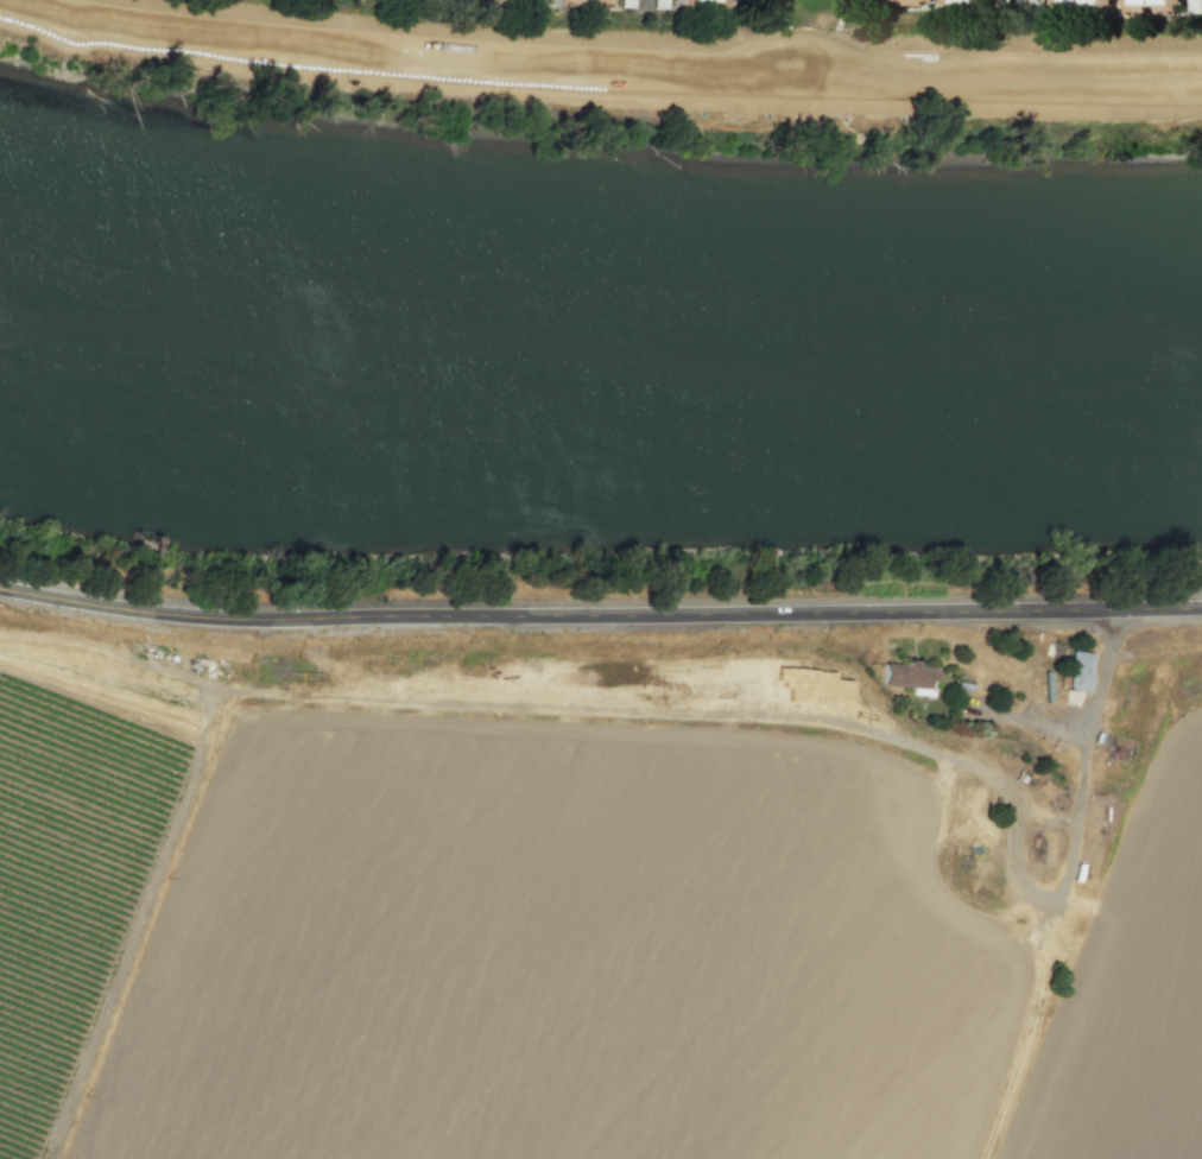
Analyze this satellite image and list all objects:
building: (517, 1)
building: (911, 1)
building: (968, 1)
building: (584, 2)
building: (702, 2)
building: (1082, 4)
road: (645, 5)
road: (1017, 8)
building: (1131, 9)
park: (802, 30)
road: (418, 31)
road: (799, 45)
road: (599, 63)
river: (597, 379)
road: (600, 613)
building: (1080, 671)
building: (909, 677)
road: (1096, 697)
road: (1024, 716)
building: (1120, 745)
crop: (641, 959)

